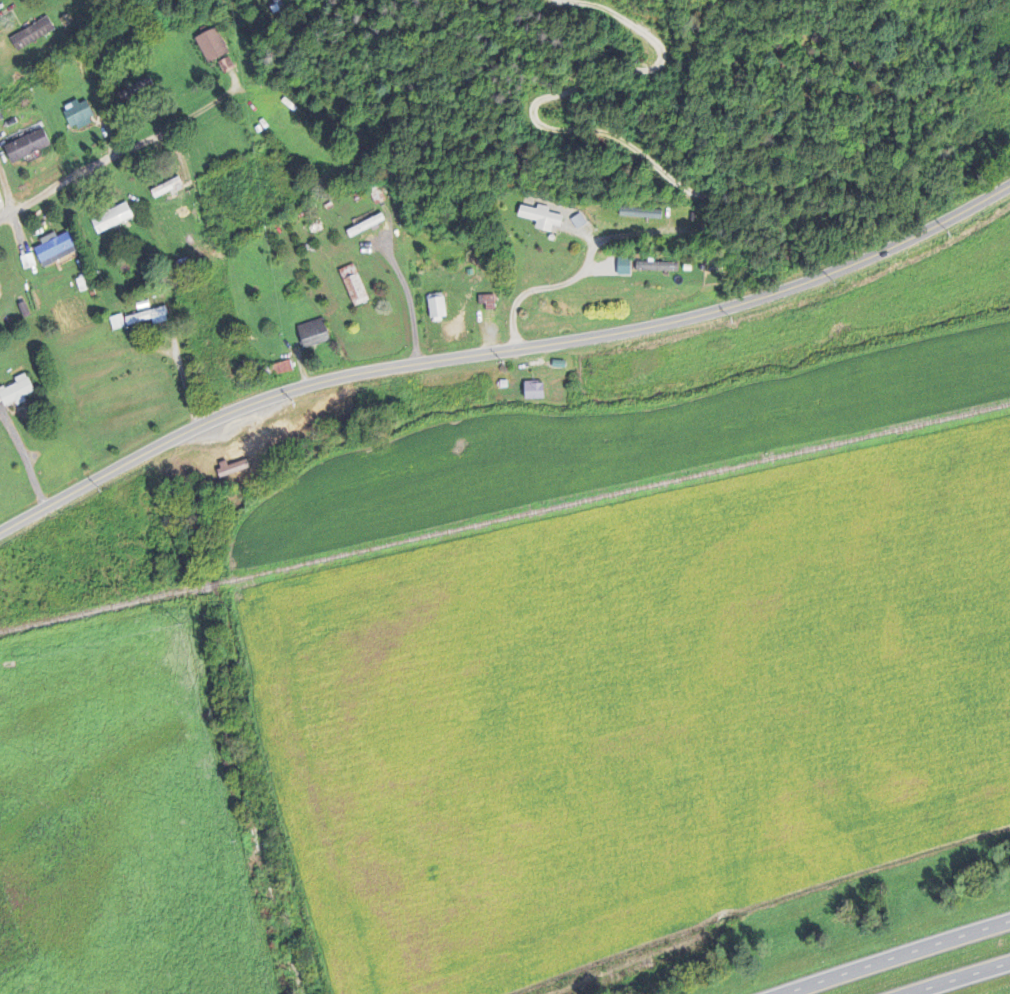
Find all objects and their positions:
building: (31, 36)
building: (210, 48)
building: (226, 67)
building: (78, 116)
building: (26, 148)
road: (636, 151)
road: (117, 155)
building: (640, 215)
building: (540, 219)
building: (111, 220)
building: (365, 227)
building: (53, 251)
building: (654, 268)
building: (353, 287)
road: (409, 294)
building: (486, 303)
building: (436, 309)
building: (138, 321)
building: (312, 335)
road: (500, 346)
building: (281, 370)
building: (533, 392)
building: (15, 393)
railway: (617, 491)
railway: (214, 584)
railway: (101, 609)
crop: (640, 705)
road: (898, 957)
road: (957, 978)

